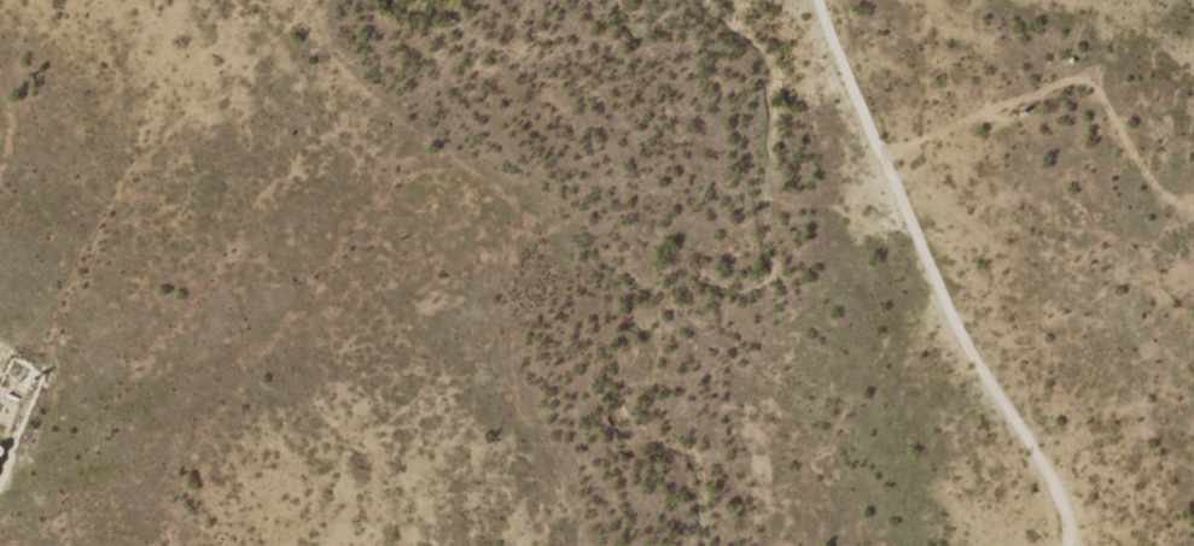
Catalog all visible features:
road: (978, 277)

